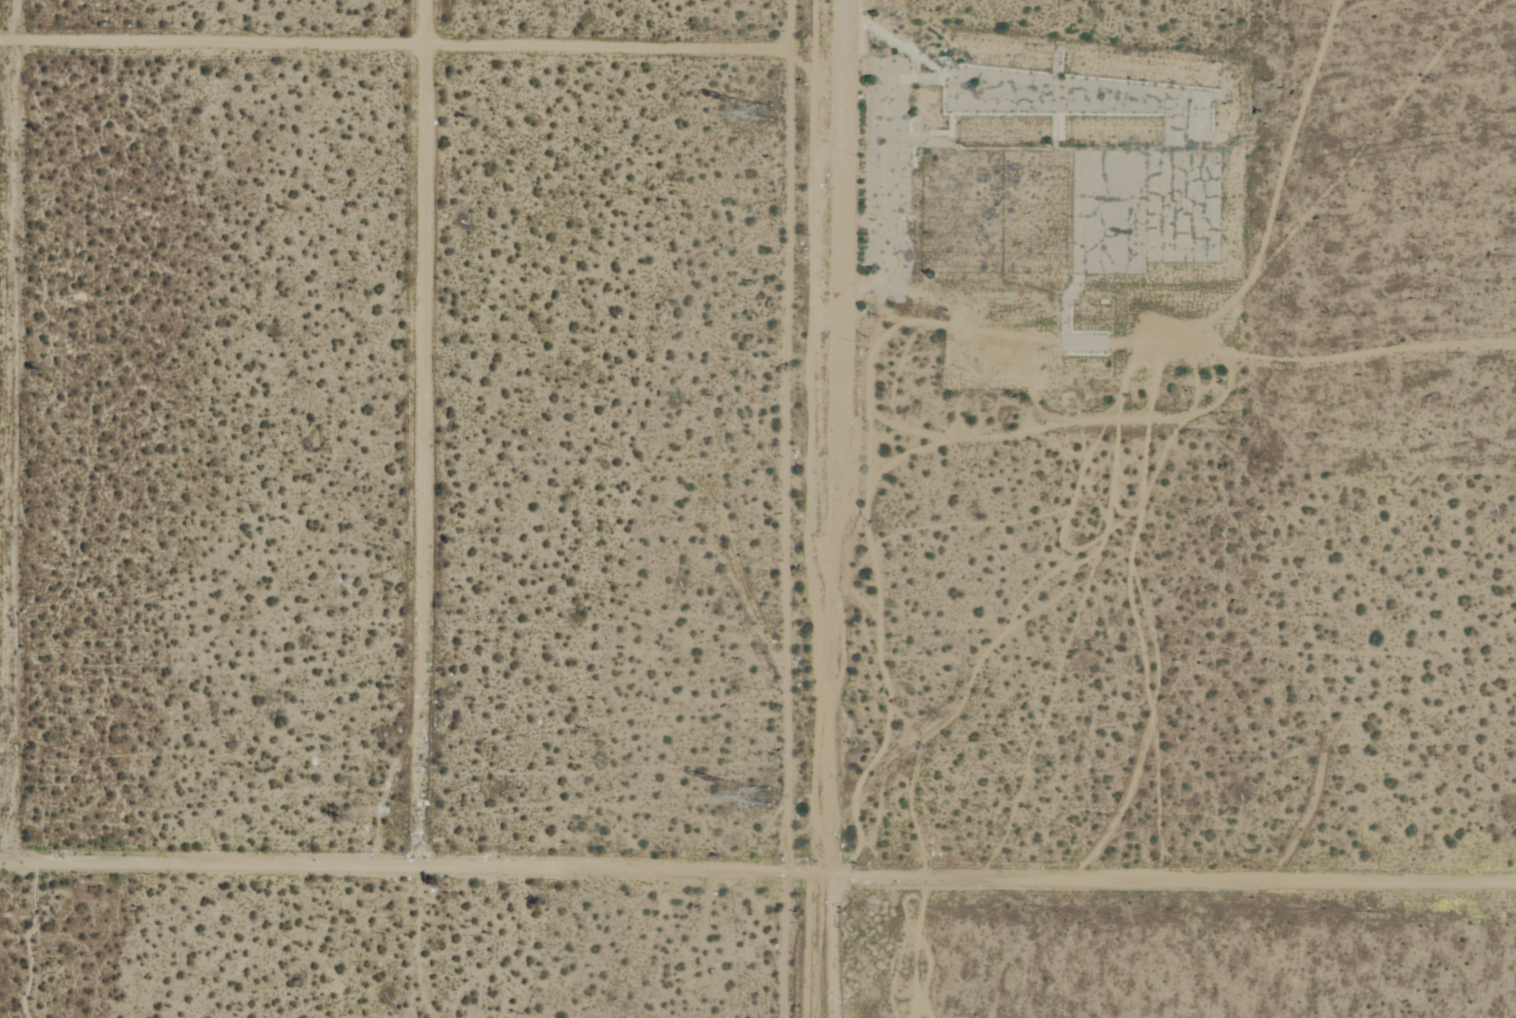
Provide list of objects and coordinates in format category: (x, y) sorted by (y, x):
road: (423, 44)
power tower: (771, 112)
road: (842, 232)
road: (19, 429)
road: (423, 431)
road: (832, 741)
power tower: (770, 795)
road: (757, 872)

